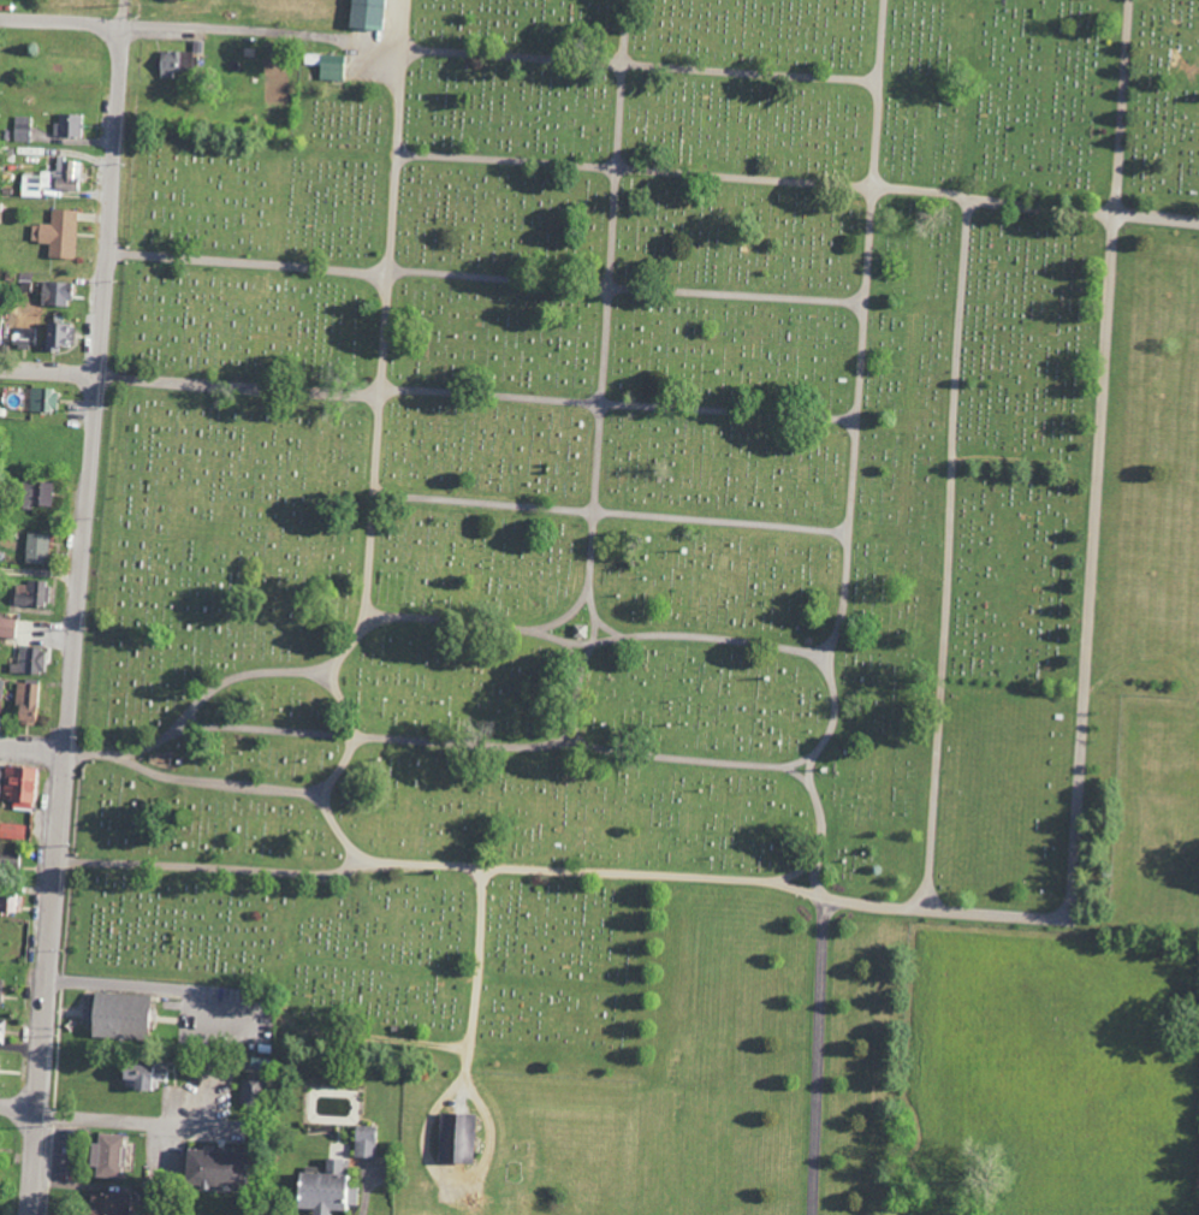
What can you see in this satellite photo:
road: (410, 0)
building: (364, 14)
road: (147, 22)
road: (408, 25)
building: (174, 64)
road: (642, 64)
building: (331, 66)
road: (402, 101)
building: (67, 125)
building: (22, 129)
building: (67, 174)
road: (799, 180)
building: (31, 185)
road: (391, 212)
building: (58, 233)
road: (248, 260)
road: (623, 290)
building: (54, 294)
building: (59, 336)
building: (0, 339)
building: (20, 340)
road: (49, 368)
road: (476, 393)
building: (42, 399)
road: (851, 452)
building: (36, 494)
road: (610, 512)
building: (35, 549)
road: (944, 555)
park: (651, 562)
road: (592, 563)
building: (30, 594)
road: (81, 607)
road: (560, 616)
road: (362, 620)
building: (6, 627)
road: (599, 640)
building: (28, 660)
building: (25, 704)
road: (34, 747)
road: (684, 752)
road: (299, 787)
building: (17, 788)
road: (1072, 857)
building: (8, 859)
road: (135, 859)
road: (287, 867)
building: (5, 903)
road: (477, 977)
road: (129, 986)
building: (115, 1017)
building: (1, 1031)
road: (815, 1055)
building: (142, 1075)
building: (251, 1092)
road: (117, 1121)
building: (453, 1139)
building: (363, 1142)
building: (103, 1156)
building: (209, 1168)
building: (322, 1190)
building: (107, 1204)

